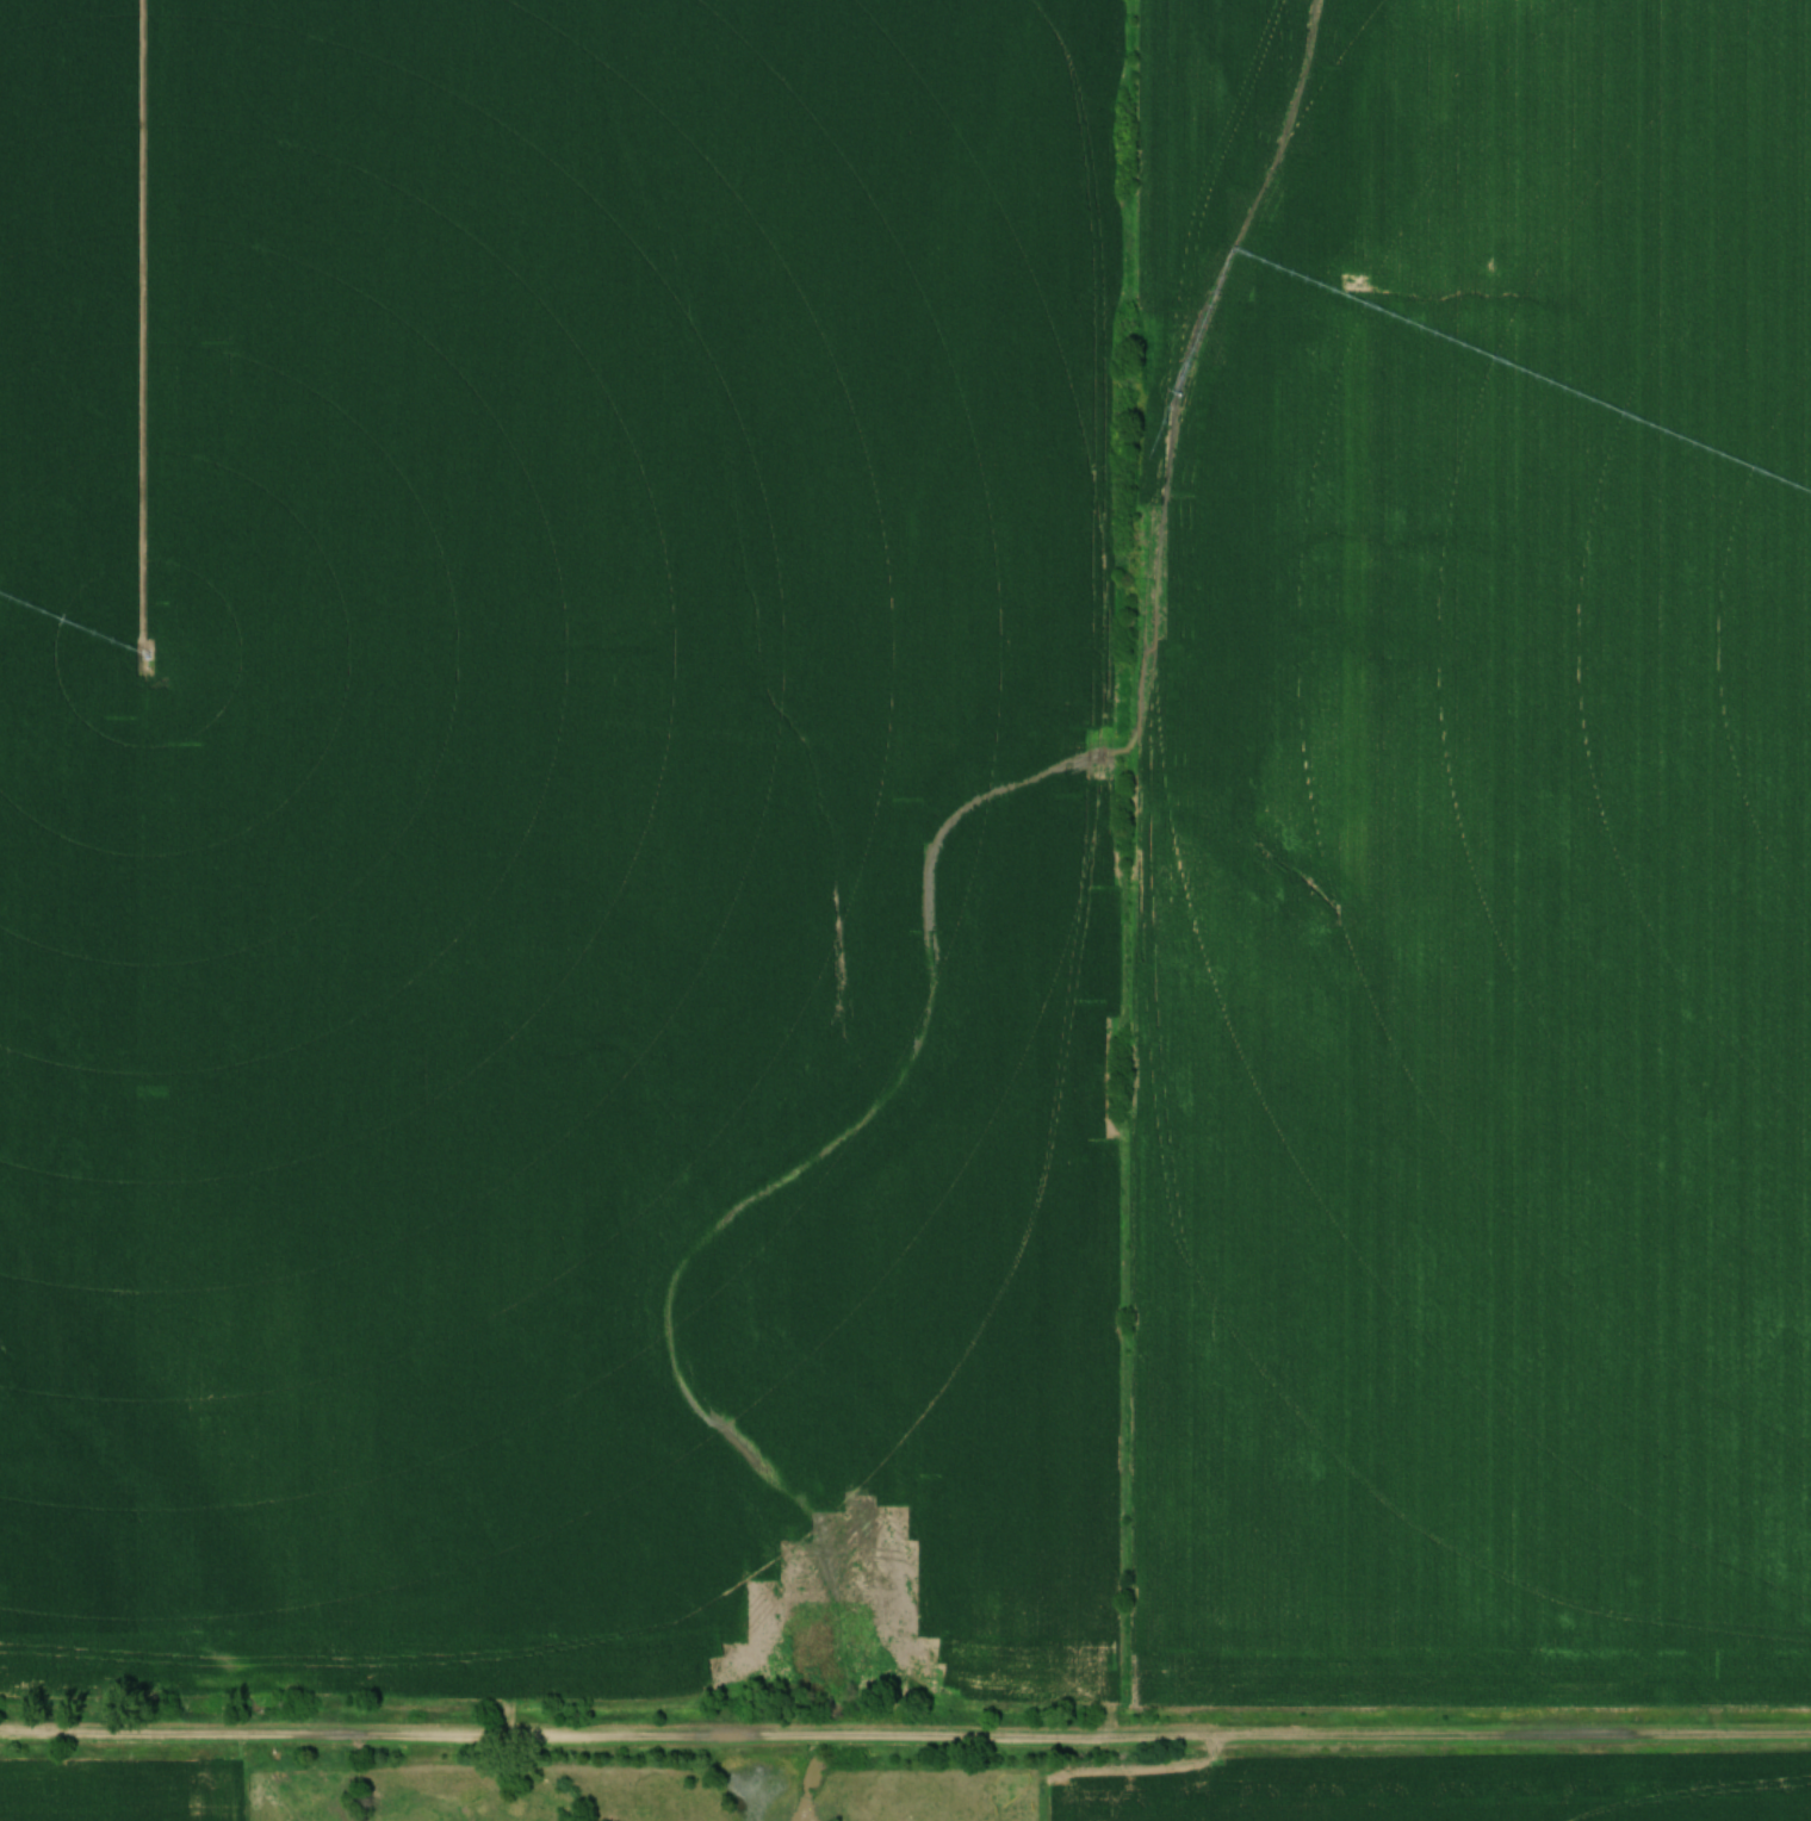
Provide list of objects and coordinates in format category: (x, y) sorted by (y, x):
road: (905, 1741)

